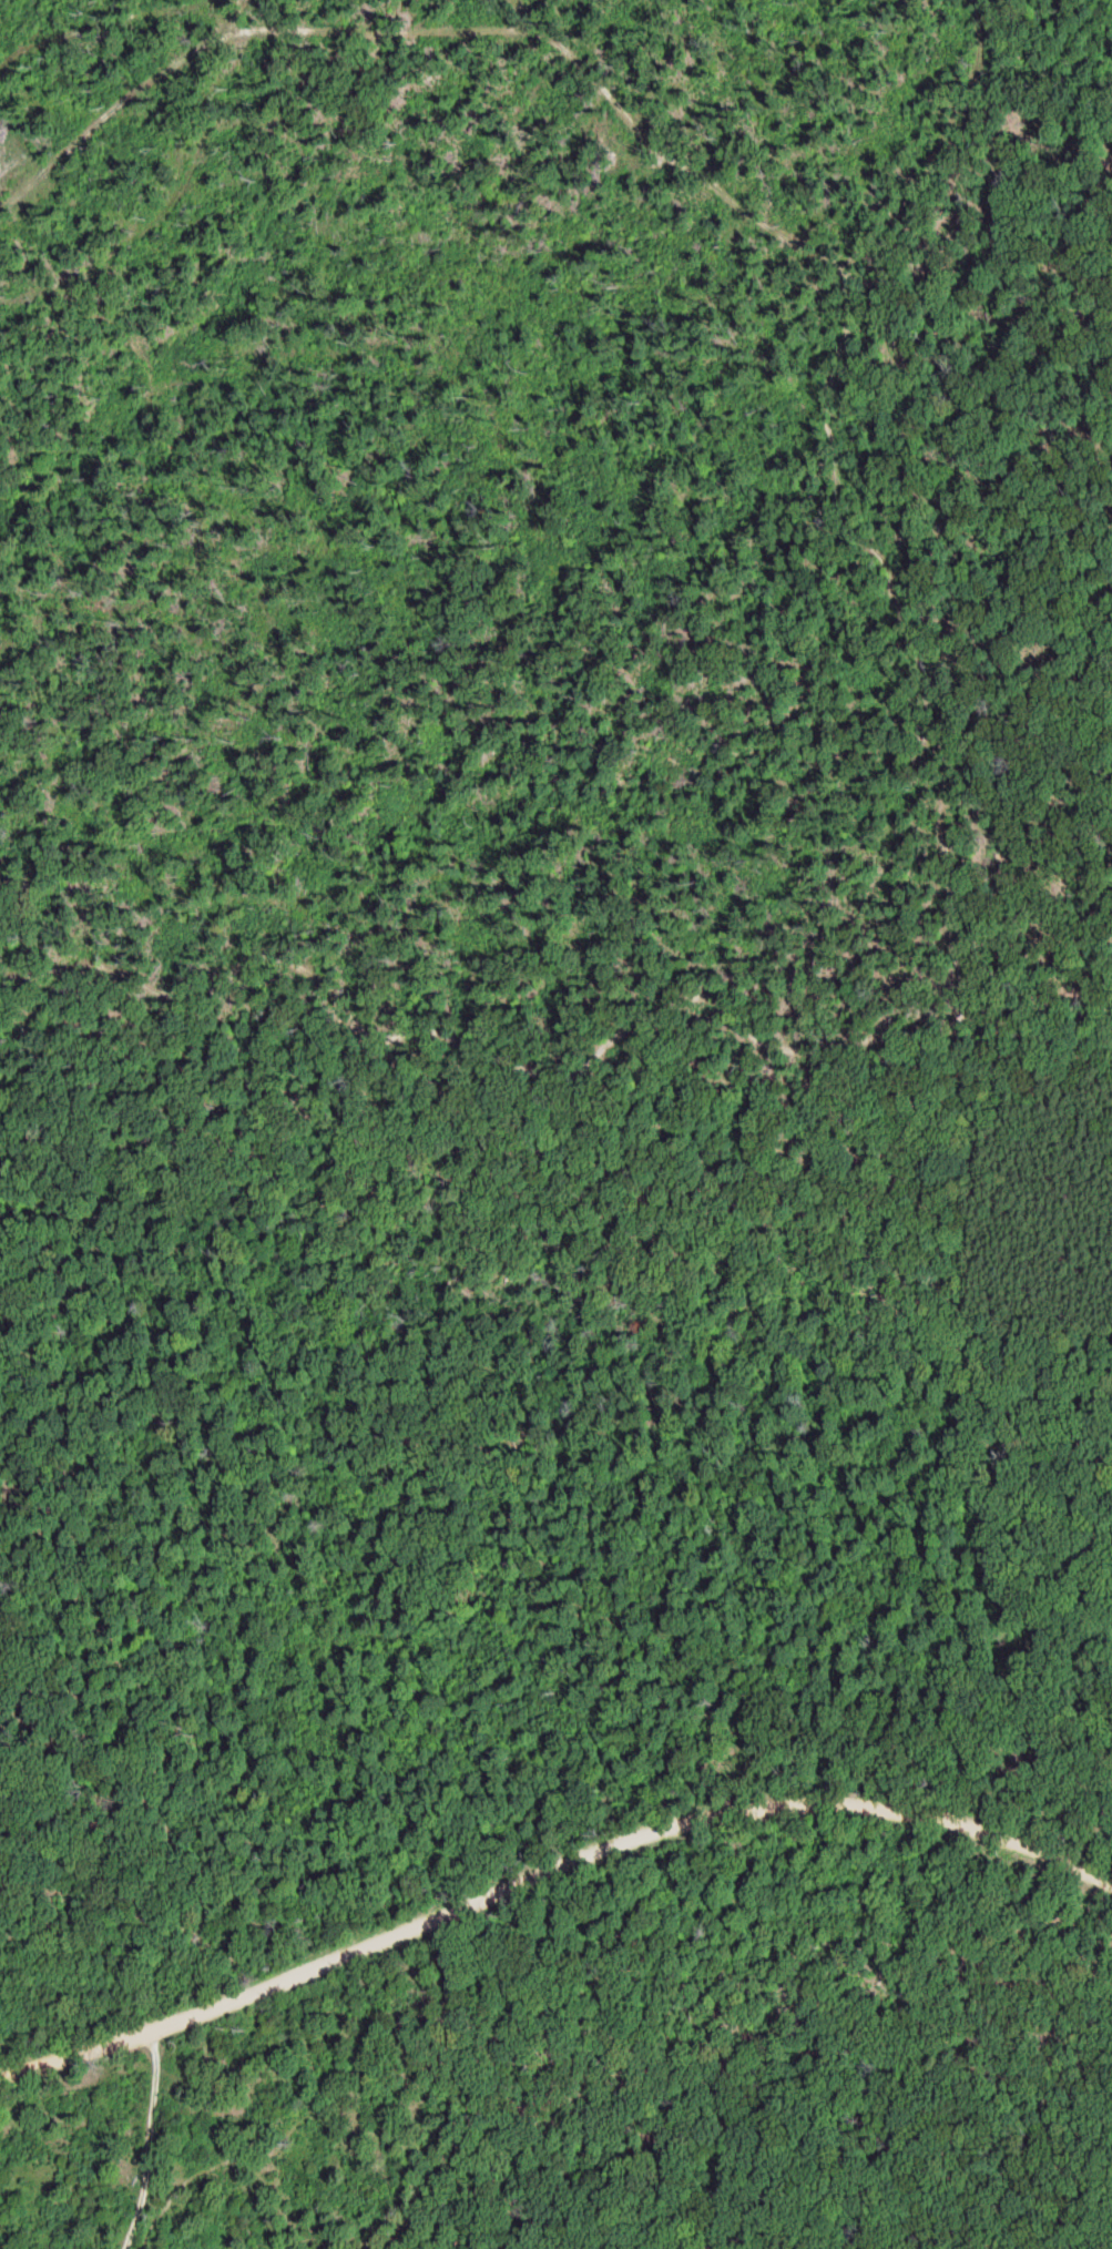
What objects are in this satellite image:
road: (540, 1885)

